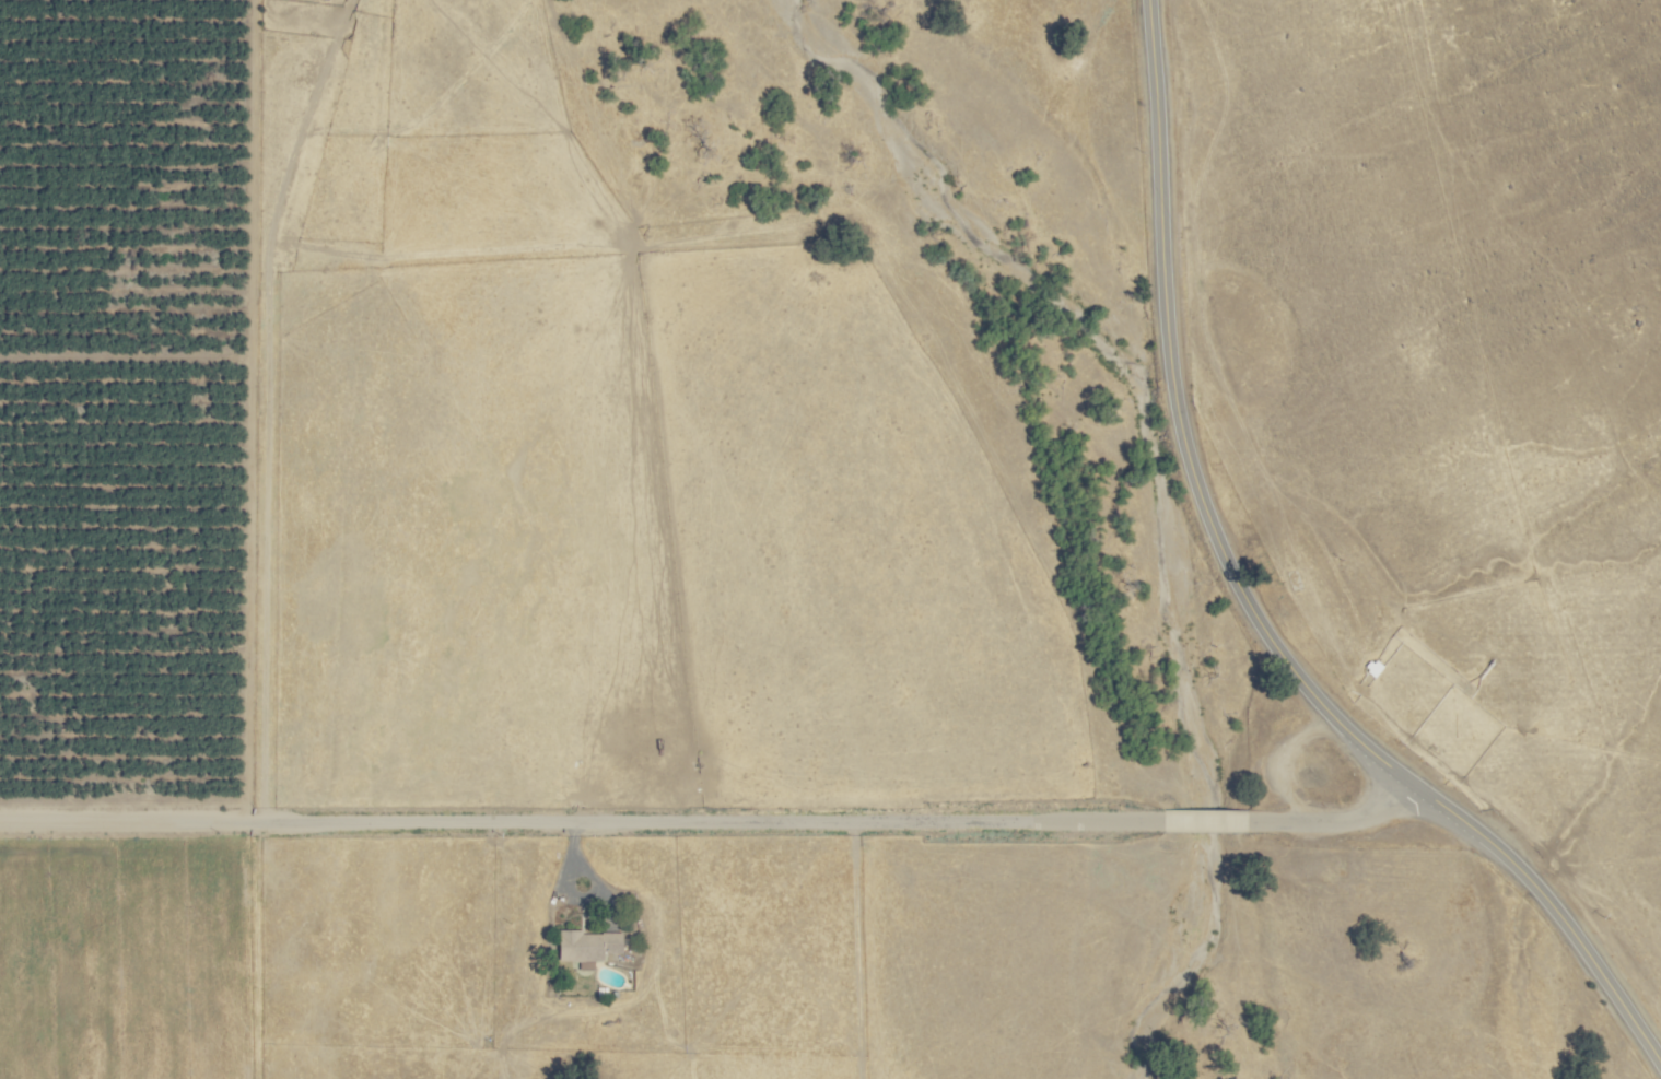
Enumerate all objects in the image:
road: (250, 408)
road: (1249, 612)
crop: (619, 623)
crop: (1333, 666)
road: (1340, 816)
road: (581, 819)
road: (1204, 821)
building: (586, 947)

